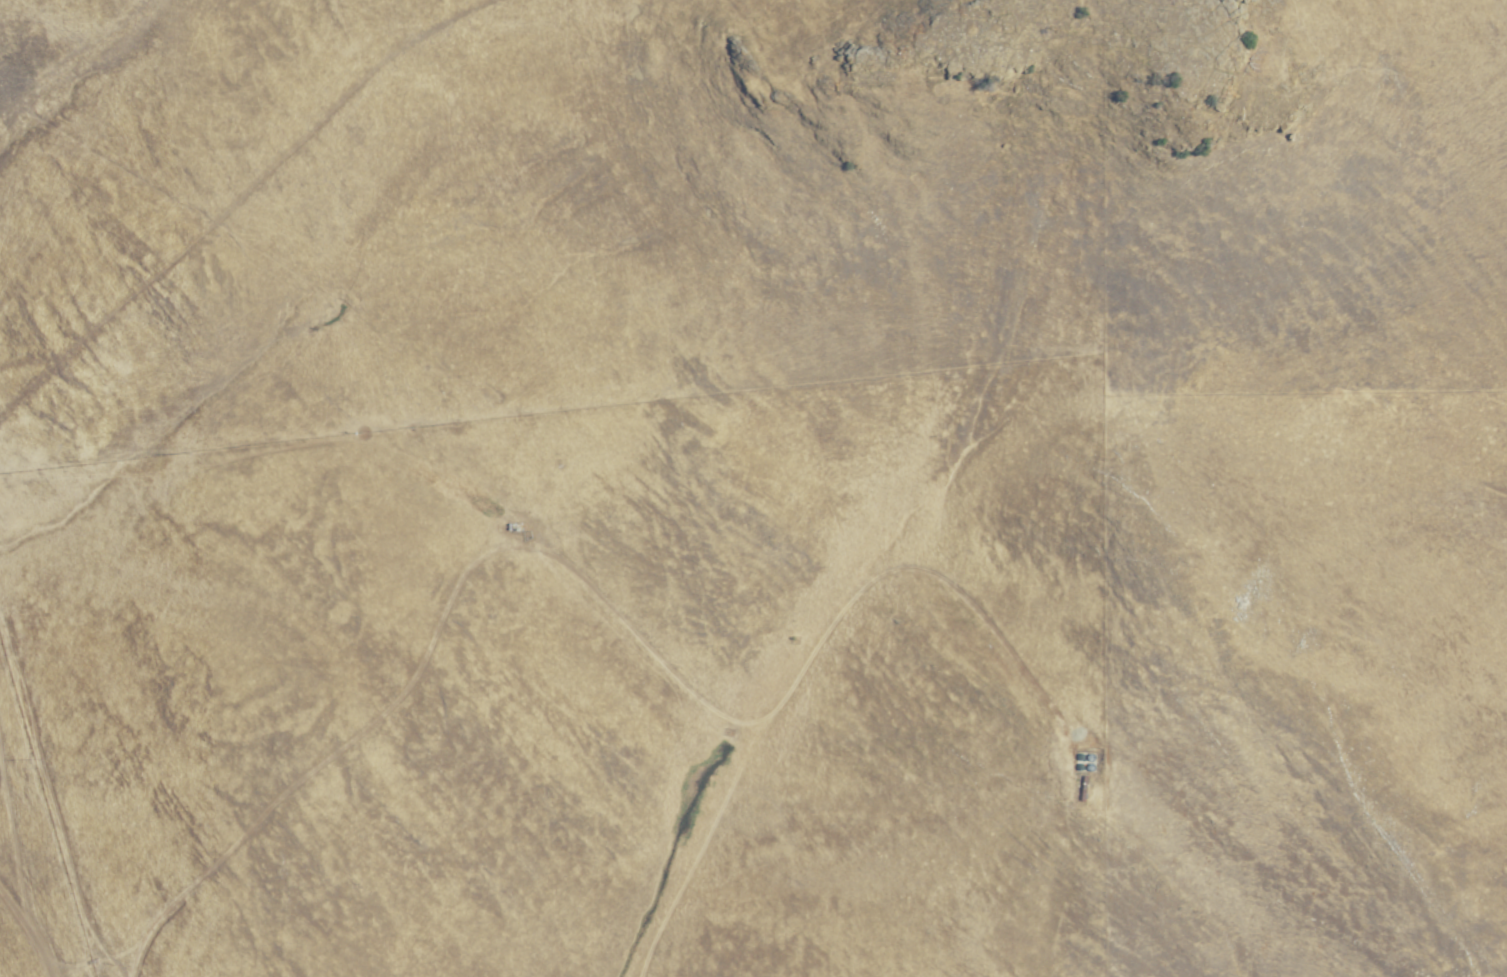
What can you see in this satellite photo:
road: (24, 936)

